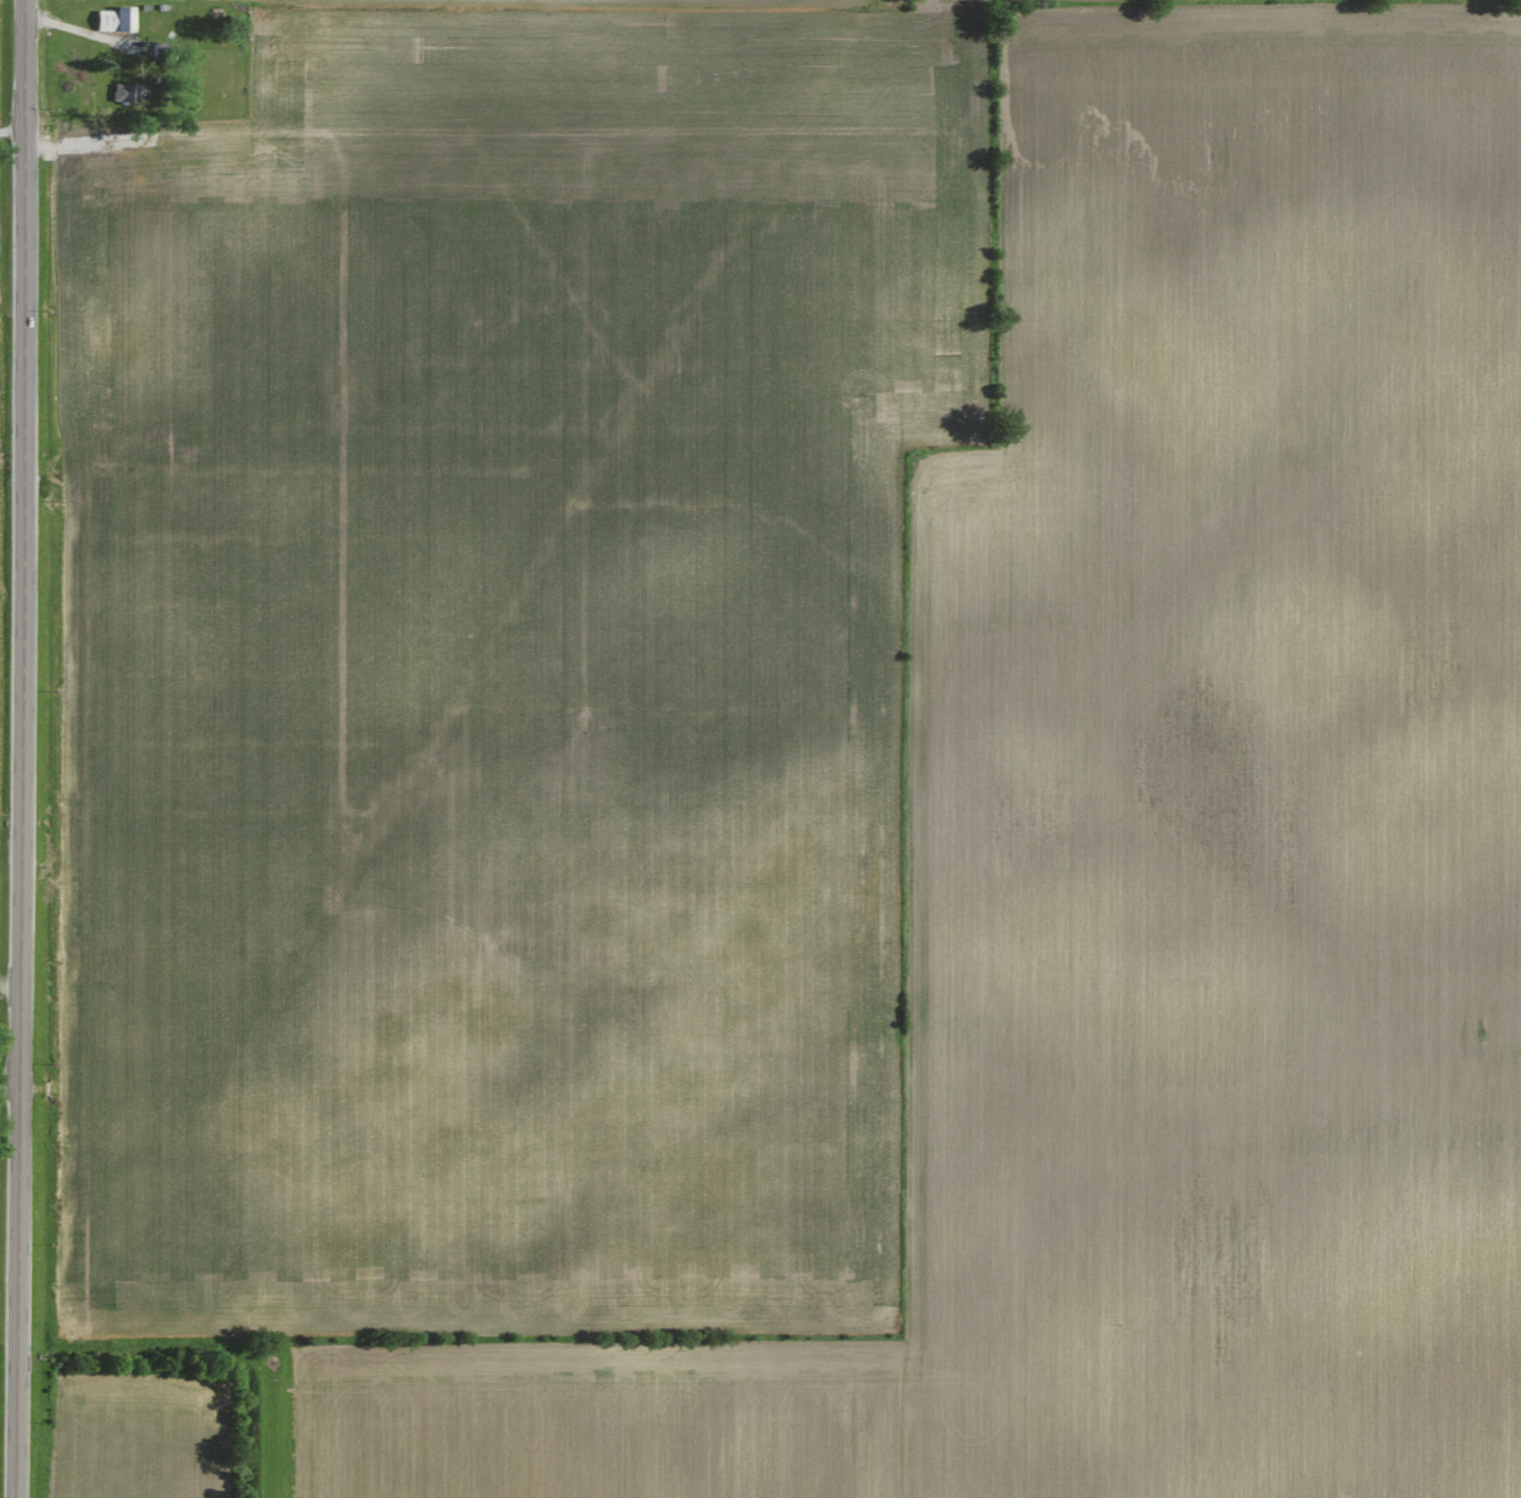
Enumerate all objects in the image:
building: (117, 19)
road: (18, 749)

